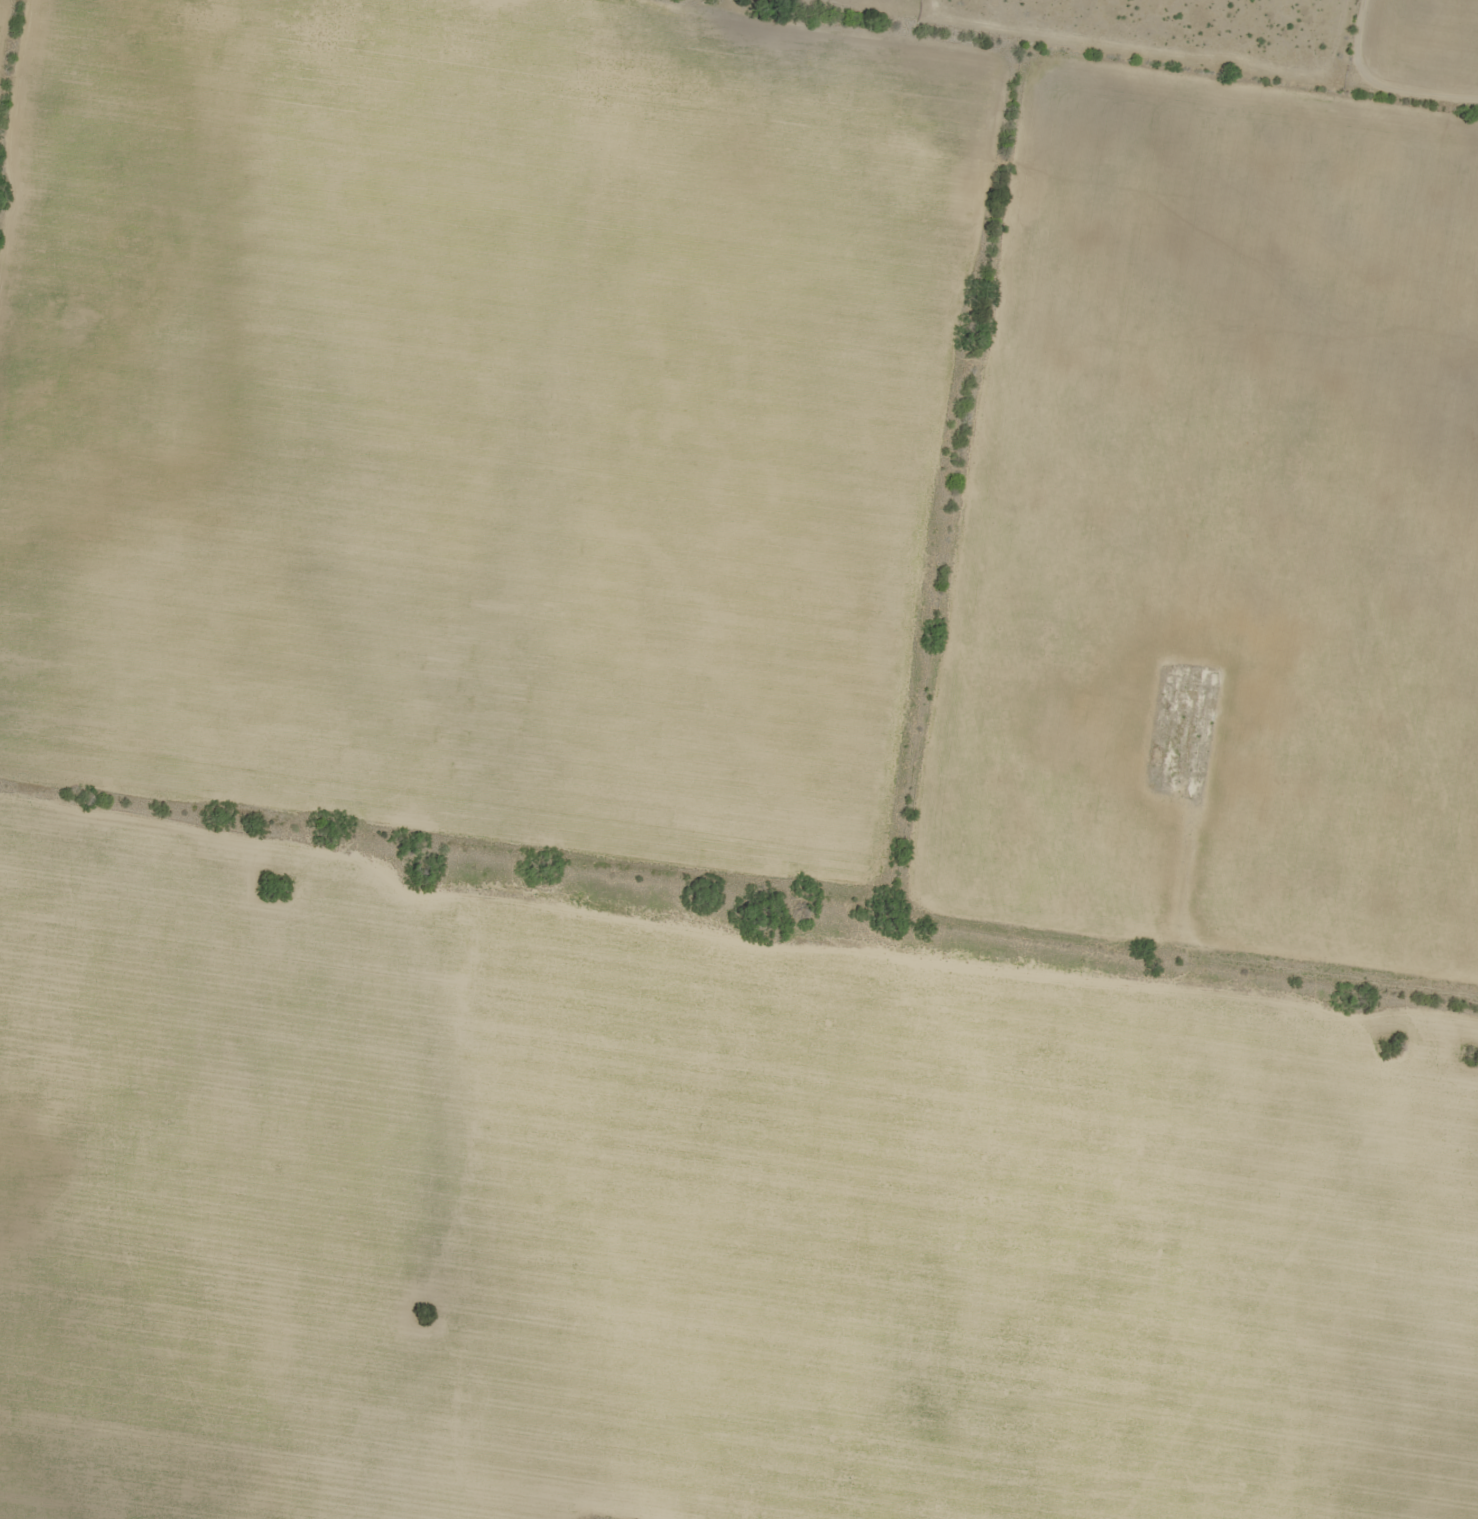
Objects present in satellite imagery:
road: (26, 1488)

